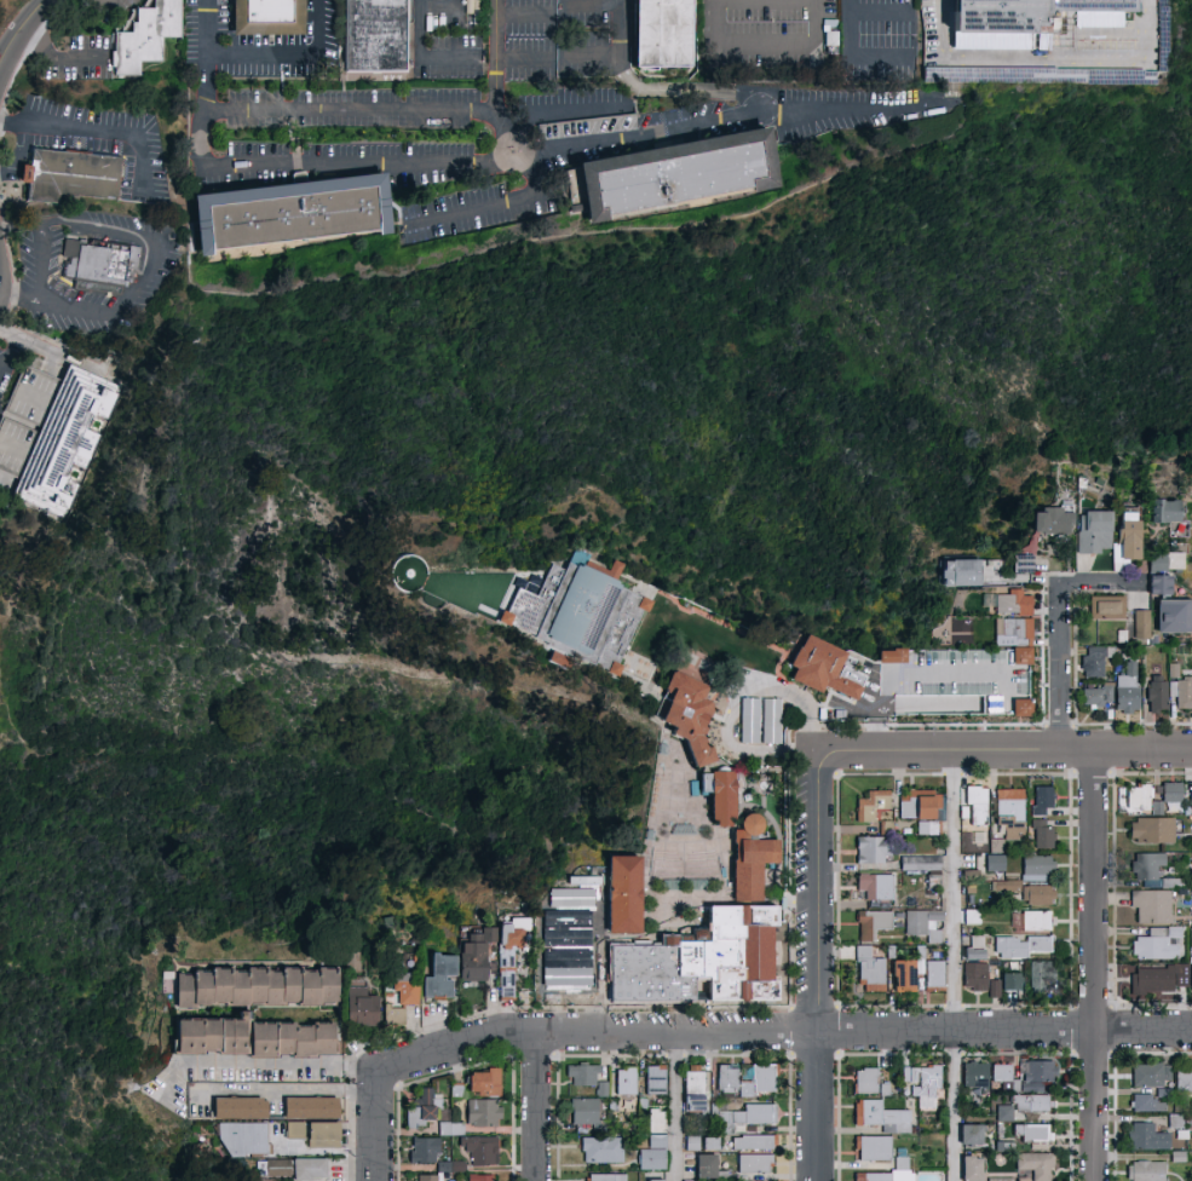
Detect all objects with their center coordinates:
road: (589, 5)
road: (440, 10)
road: (882, 10)
road: (524, 15)
building: (1031, 16)
building: (271, 18)
road: (716, 23)
road: (621, 25)
road: (21, 28)
road: (1146, 29)
building: (667, 35)
building: (376, 36)
building: (149, 38)
road: (789, 48)
road: (61, 54)
road: (206, 54)
road: (853, 54)
road: (1020, 54)
road: (287, 56)
road: (422, 59)
road: (495, 59)
road: (524, 61)
road: (593, 61)
road: (702, 90)
road: (364, 109)
road: (843, 109)
road: (566, 114)
road: (100, 131)
road: (638, 137)
road: (516, 140)
road: (324, 163)
building: (71, 177)
building: (683, 178)
road: (486, 207)
building: (294, 218)
road: (40, 265)
building: (97, 265)
road: (151, 265)
road: (17, 334)
road: (7, 353)
road: (7, 368)
building: (45, 433)
building: (1083, 482)
building: (1167, 513)
building: (1056, 523)
building: (1098, 532)
building: (1130, 542)
building: (1026, 564)
building: (1168, 564)
building: (410, 572)
building: (963, 572)
building: (1162, 587)
building: (1013, 603)
building: (1108, 610)
building: (582, 612)
building: (1175, 618)
building: (1144, 626)
road: (1056, 629)
building: (1124, 638)
building: (1019, 639)
building: (894, 656)
building: (967, 656)
building: (560, 661)
building: (1098, 662)
building: (828, 668)
building: (1171, 668)
building: (1176, 673)
building: (960, 691)
building: (1130, 692)
building: (1182, 695)
building: (1159, 696)
building: (1099, 697)
building: (1026, 708)
building: (690, 715)
road: (1004, 753)
building: (1169, 790)
building: (724, 795)
building: (1135, 795)
building: (1190, 795)
building: (1040, 799)
building: (975, 801)
building: (869, 802)
building: (916, 802)
building: (1154, 806)
building: (1008, 810)
building: (925, 826)
building: (1150, 828)
building: (1040, 831)
building: (994, 843)
building: (869, 847)
building: (994, 860)
building: (919, 862)
building: (1146, 863)
building: (1035, 866)
building: (873, 885)
building: (1006, 885)
building: (1035, 893)
building: (628, 895)
building: (1151, 905)
building: (969, 914)
building: (1033, 918)
building: (871, 922)
building: (922, 922)
building: (674, 933)
building: (714, 943)
building: (1156, 943)
building: (1020, 945)
road: (595, 951)
building: (971, 951)
building: (512, 955)
building: (478, 956)
building: (355, 963)
road: (954, 967)
road: (1095, 967)
road: (818, 968)
building: (868, 969)
building: (932, 972)
building: (1038, 973)
building: (899, 974)
building: (973, 974)
building: (1191, 975)
building: (169, 977)
building: (442, 978)
building: (1153, 978)
building: (1002, 981)
building: (224, 986)
building: (259, 986)
building: (293, 986)
building: (330, 986)
building: (241, 989)
building: (276, 989)
building: (311, 989)
building: (409, 989)
building: (196, 991)
building: (363, 1006)
building: (397, 1018)
road: (783, 1033)
building: (255, 1038)
road: (258, 1064)
building: (1000, 1071)
building: (1150, 1072)
building: (973, 1073)
building: (586, 1076)
building: (1182, 1078)
building: (863, 1079)
building: (658, 1081)
building: (730, 1081)
building: (760, 1081)
building: (629, 1082)
building: (921, 1082)
building: (483, 1085)
road: (287, 1089)
building: (605, 1090)
building: (697, 1090)
building: (1150, 1099)
building: (1030, 1101)
building: (739, 1102)
building: (615, 1106)
building: (645, 1106)
road: (539, 1107)
road: (678, 1107)
building: (241, 1110)
building: (313, 1110)
building: (425, 1110)
building: (1003, 1111)
building: (485, 1114)
building: (591, 1114)
building: (879, 1114)
building: (745, 1117)
building: (1174, 1119)
building: (660, 1123)
road: (379, 1125)
building: (451, 1125)
building: (1031, 1130)
building: (296, 1133)
building: (968, 1133)
building: (1147, 1135)
building: (327, 1136)
building: (246, 1140)
building: (661, 1142)
building: (758, 1143)
building: (696, 1145)
building: (714, 1145)
building: (871, 1146)
building: (427, 1151)
building: (484, 1151)
building: (605, 1151)
building: (655, 1160)
building: (1035, 1163)
building: (758, 1164)
building: (969, 1166)
building: (447, 1168)
building: (461, 1168)
building: (276, 1169)
building: (712, 1169)
building: (898, 1169)
building: (311, 1170)
building: (1142, 1170)
building: (874, 1176)
building: (433, 1177)
building: (483, 1177)
building: (609, 1179)
building: (652, 1179)
building: (266, 1180)
building: (738, 1180)

